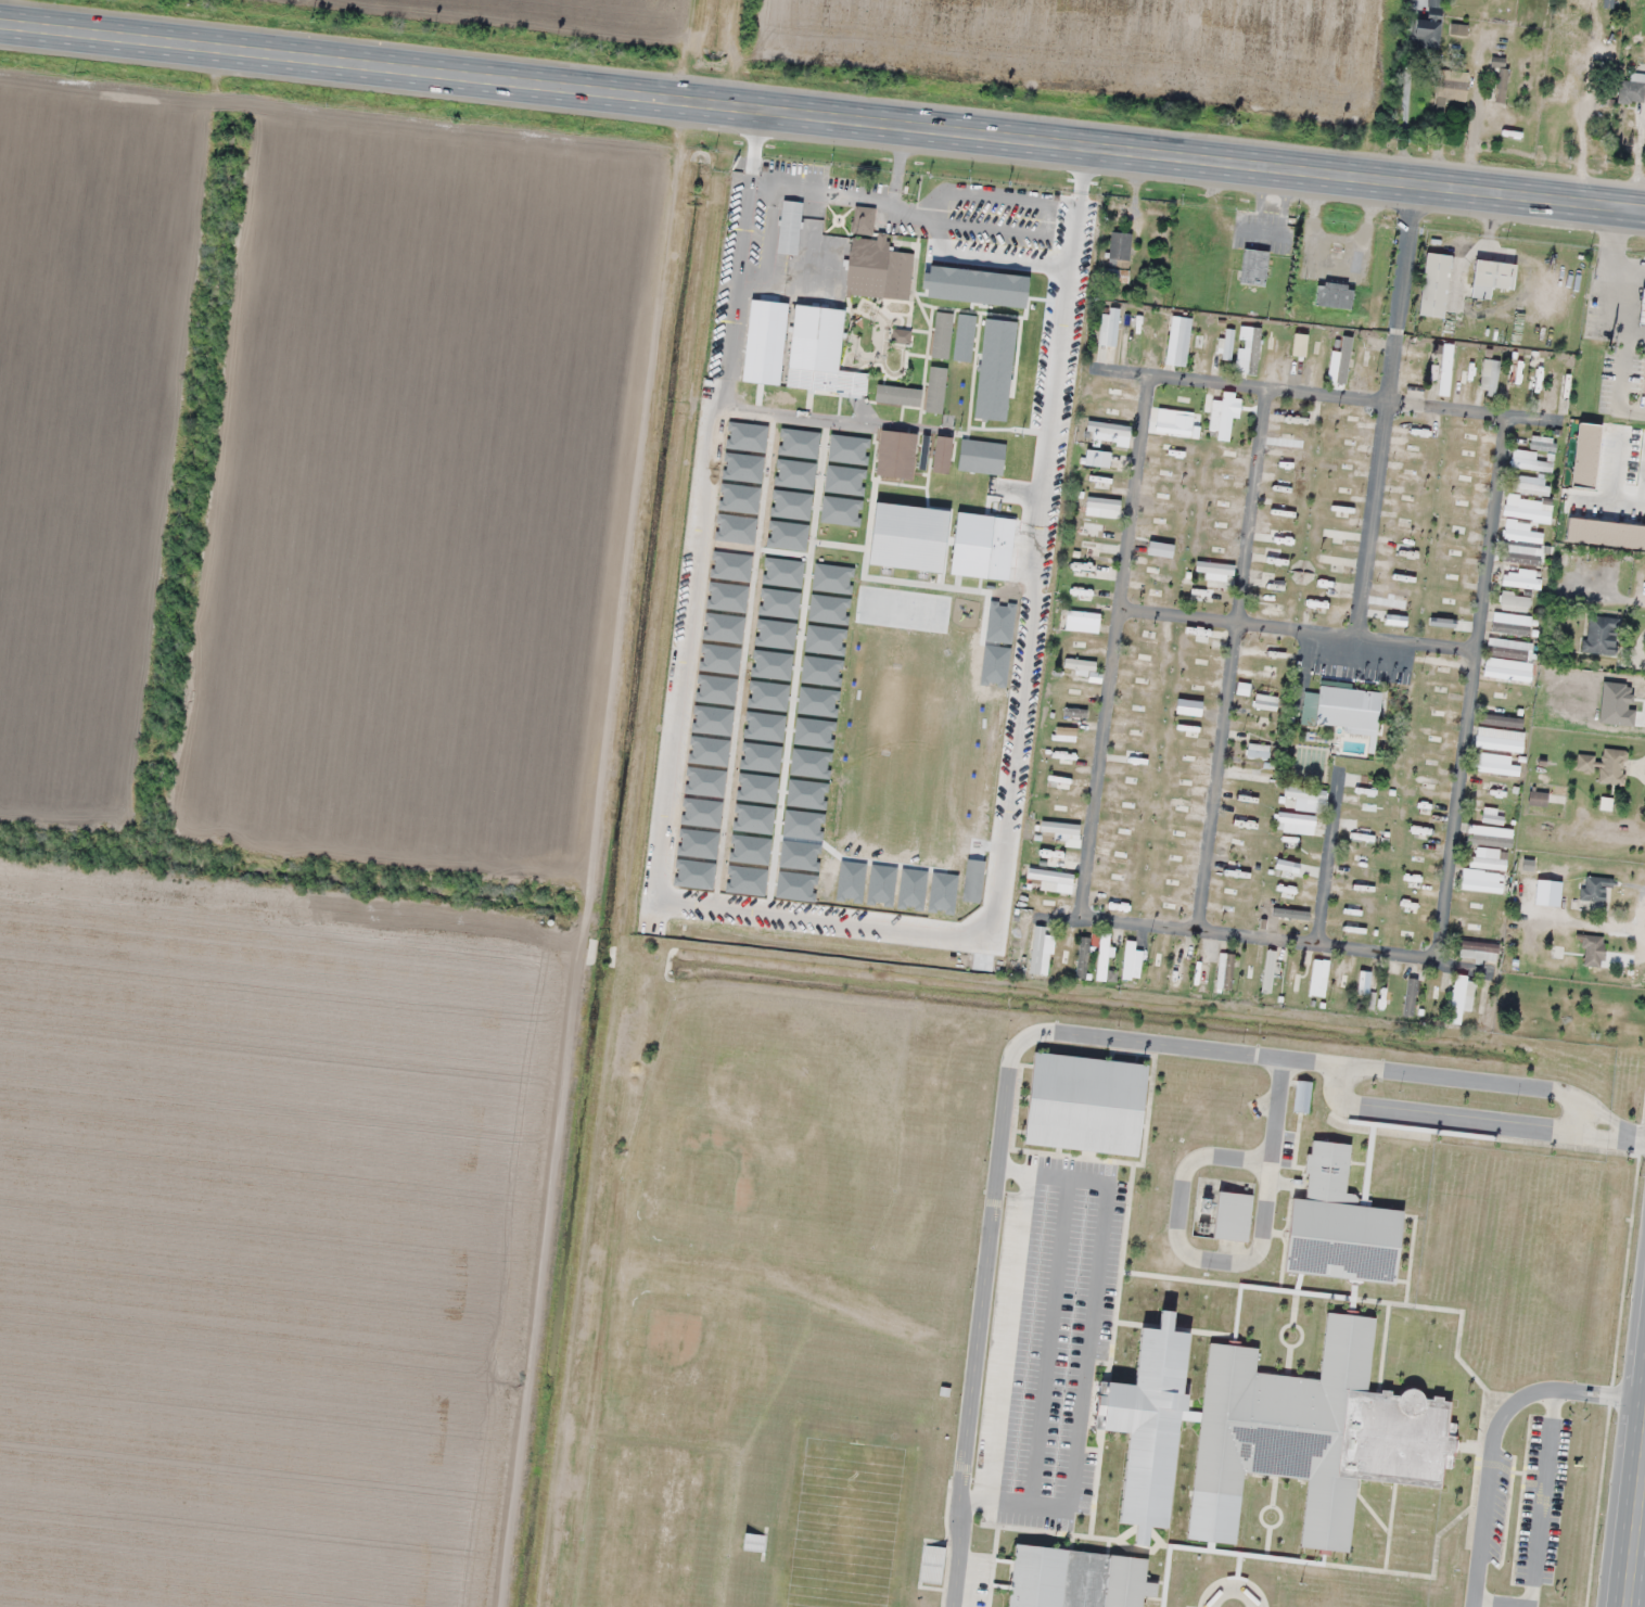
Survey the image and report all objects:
building: (1605, 11)
building: (1425, 22)
road: (690, 49)
building: (1559, 74)
building: (1499, 80)
building: (1452, 85)
building: (1630, 91)
building: (1557, 111)
road: (821, 116)
building: (791, 227)
building: (1119, 250)
building: (877, 260)
building: (1252, 268)
building: (1115, 276)
building: (1488, 278)
building: (1432, 285)
building: (1334, 295)
building: (1641, 309)
building: (1184, 335)
building: (1225, 345)
building: (1250, 345)
building: (818, 349)
building: (1341, 357)
building: (1440, 373)
building: (1514, 375)
building: (1490, 377)
building: (1644, 385)
building: (1556, 386)
road: (1332, 395)
road: (1383, 411)
building: (1223, 414)
building: (1172, 429)
building: (1106, 433)
building: (1542, 443)
building: (1529, 461)
building: (1528, 486)
building: (1518, 502)
building: (1104, 506)
building: (1520, 532)
building: (1216, 569)
building: (1521, 576)
building: (1515, 601)
building: (1084, 616)
building: (1513, 623)
road: (1296, 629)
building: (1602, 633)
road: (1114, 646)
building: (1510, 648)
road: (1232, 660)
building: (1081, 664)
building: (1508, 668)
road: (1468, 688)
building: (1266, 701)
building: (1348, 707)
building: (1075, 711)
building: (1502, 719)
building: (1500, 739)
building: (1259, 750)
building: (1494, 763)
building: (1614, 765)
building: (1306, 793)
building: (1539, 798)
building: (1369, 809)
building: (1064, 831)
building: (1490, 836)
building: (1490, 859)
road: (1328, 860)
building: (1051, 875)
building: (1483, 879)
building: (1359, 884)
building: (1595, 892)
road: (1284, 944)
building: (1479, 949)
building: (1042, 951)
building: (1104, 956)
building: (1083, 957)
building: (1132, 960)
building: (1181, 962)
building: (1270, 969)
building: (1226, 971)
building: (1319, 977)
building: (1363, 979)
building: (1412, 996)
building: (1462, 996)
road: (1502, 1082)
road: (1458, 1119)
road: (1634, 1134)
road: (998, 1149)
road: (1179, 1200)
building: (1235, 1215)
building: (1343, 1224)
road: (1050, 1342)
road: (1087, 1347)
building: (1319, 1429)
road: (1492, 1433)
road: (1538, 1523)
road: (1642, 1581)
building: (1128, 1582)
road: (1230, 1589)

